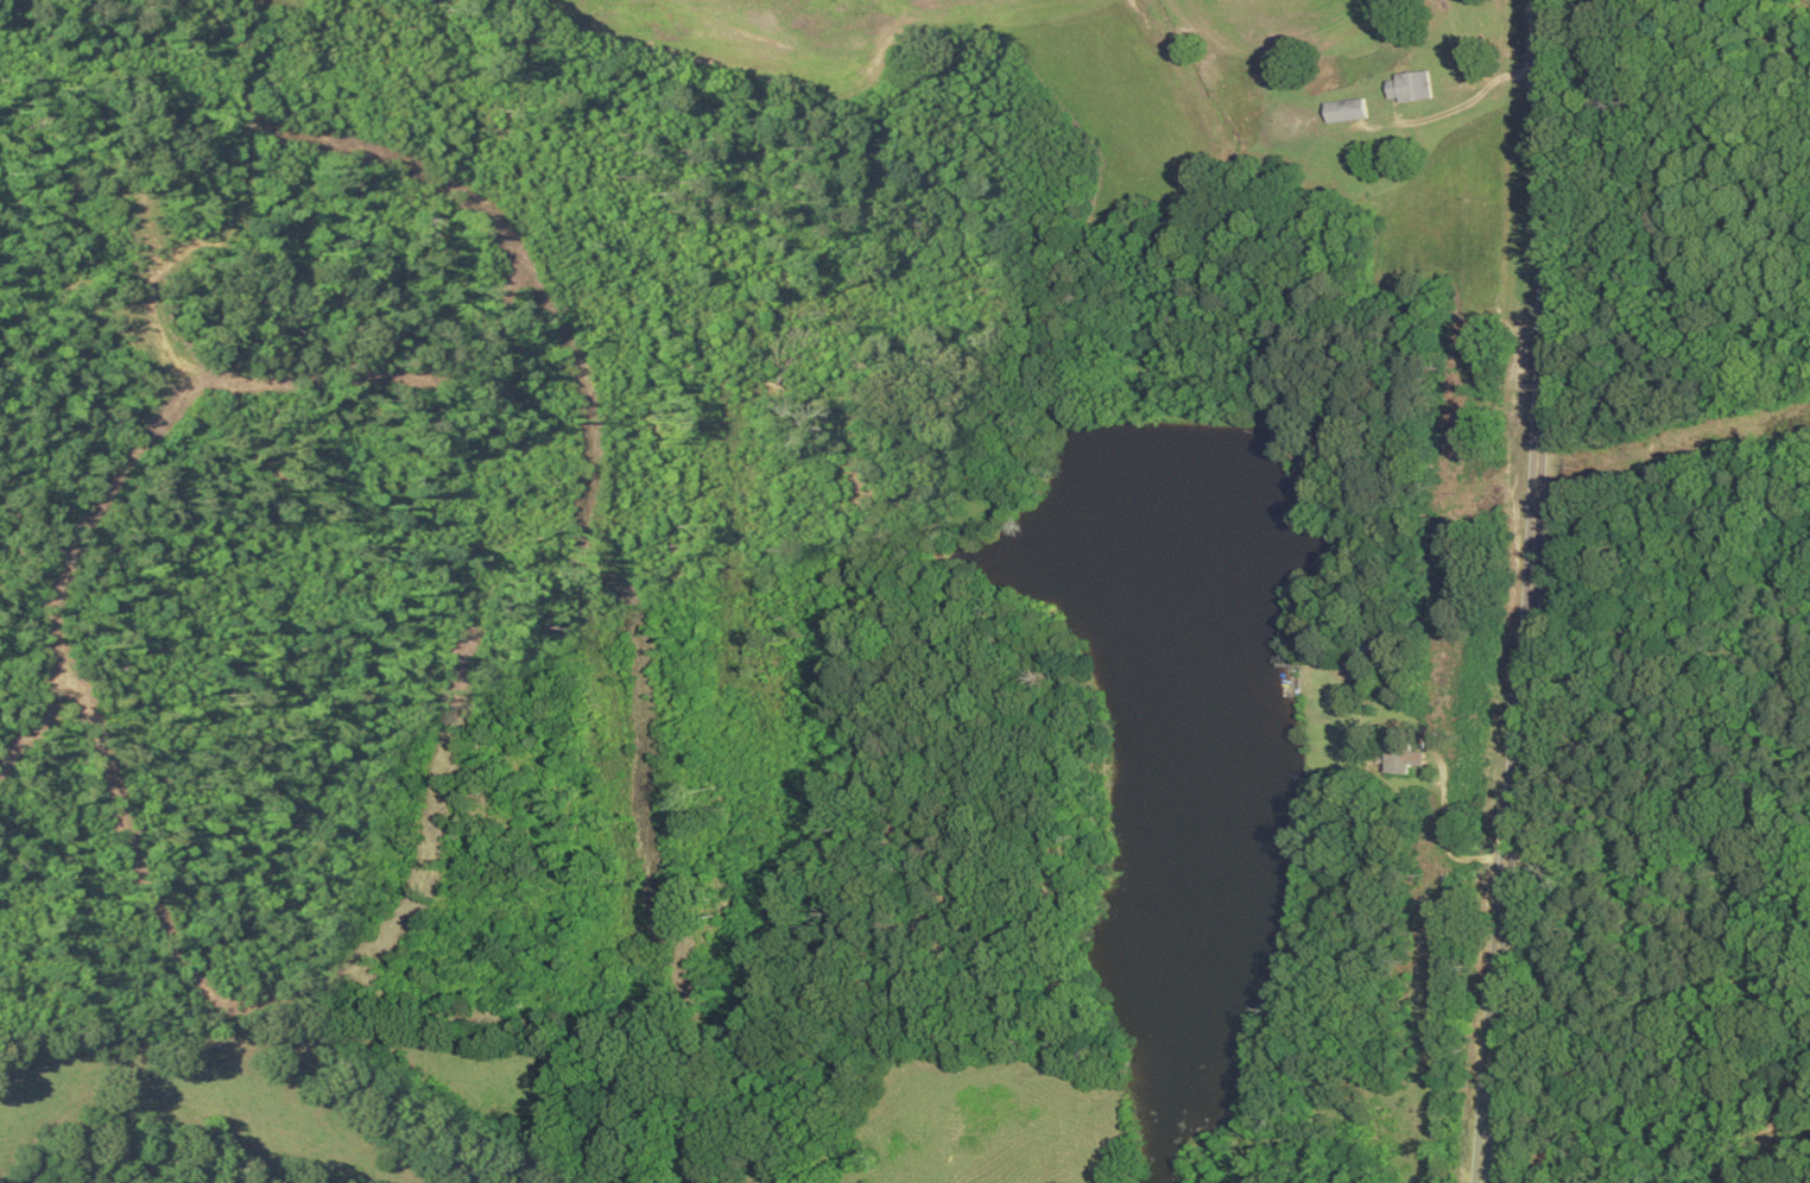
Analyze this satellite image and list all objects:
building: (1412, 83)
building: (1348, 107)
road: (1489, 590)
building: (1403, 749)

